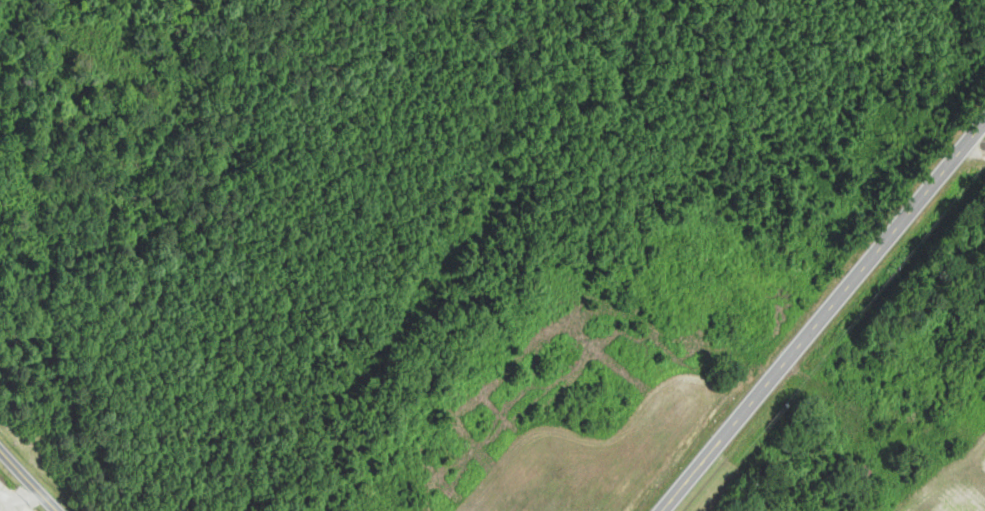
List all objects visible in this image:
road: (823, 315)
road: (28, 480)

